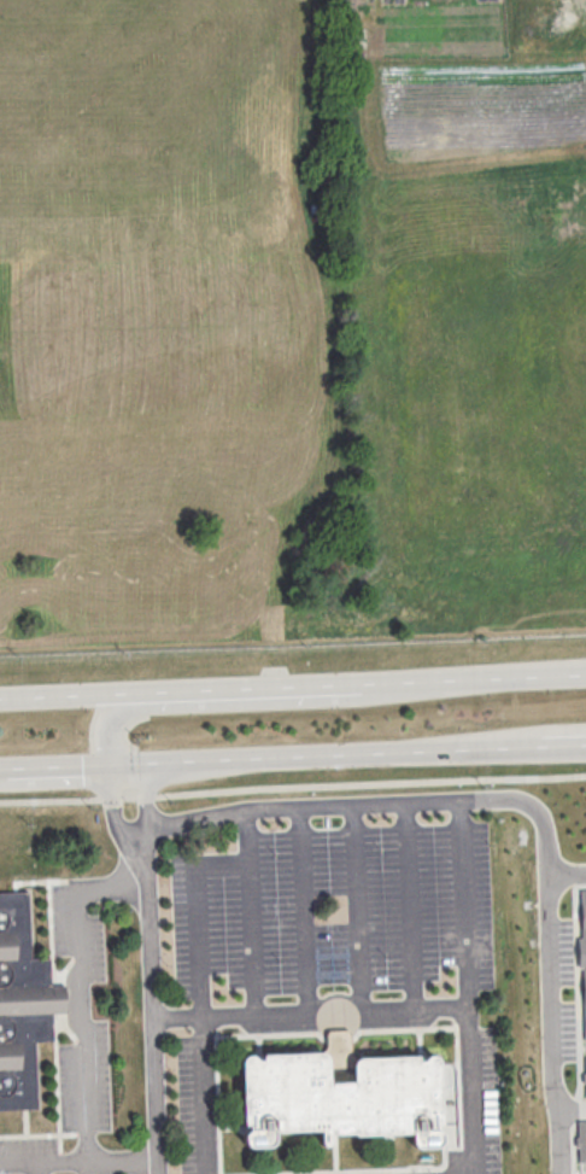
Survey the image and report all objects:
crop: (291, 321)
road: (515, 670)
road: (222, 683)
road: (256, 703)
road: (528, 736)
road: (529, 754)
road: (291, 764)
traffic signals: (109, 771)
road: (54, 772)
road: (292, 784)
road: (303, 804)
road: (146, 822)
road: (118, 825)
road: (566, 870)
road: (111, 889)
road: (410, 903)
road: (356, 905)
road: (303, 907)
road: (252, 910)
road: (195, 916)
building: (584, 950)
parking lot: (324, 951)
road: (549, 951)
road: (468, 985)
building: (23, 1004)
road: (310, 1009)
road: (152, 1024)
road: (82, 1032)
parking lot: (72, 1047)
road: (203, 1093)
building: (341, 1094)
building: (582, 1140)
road: (80, 1162)
road: (36, 1168)

